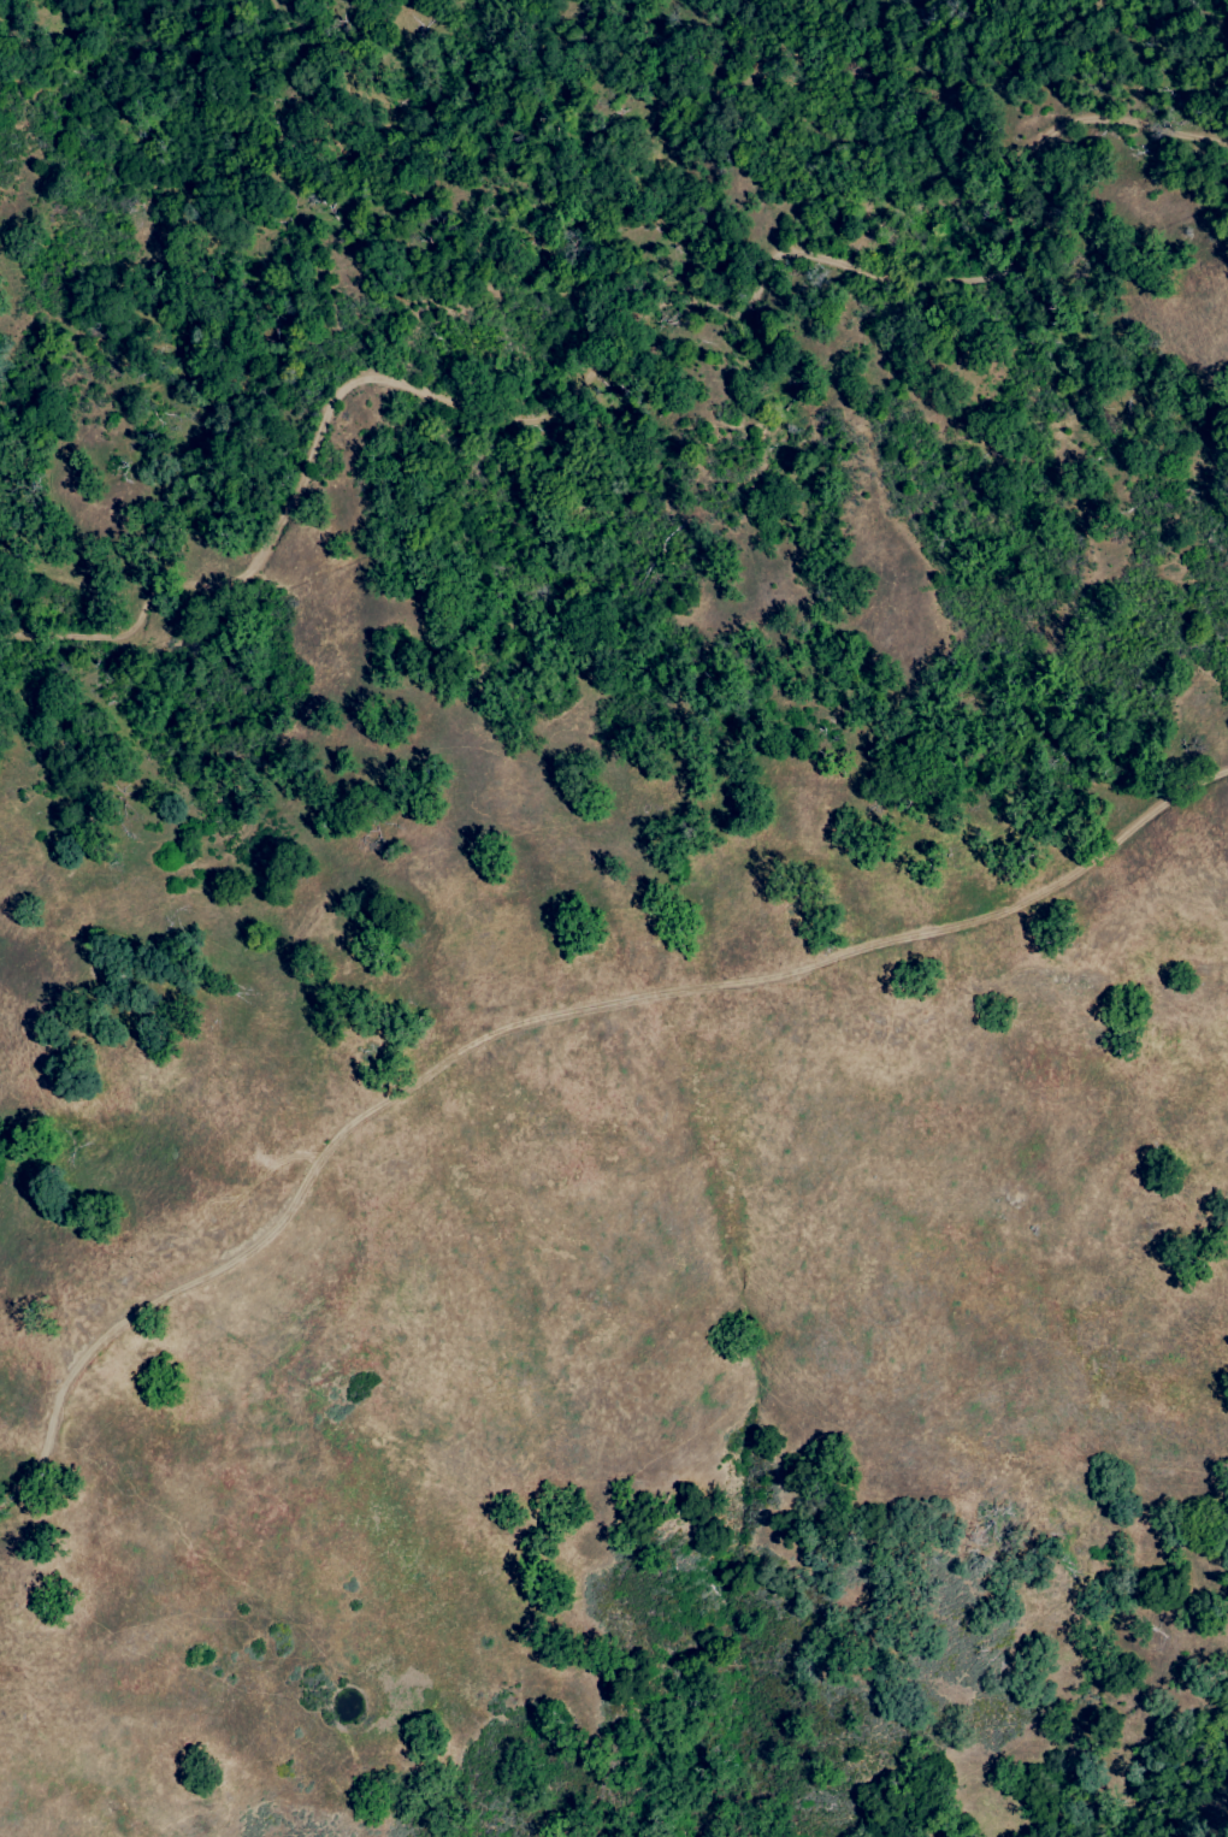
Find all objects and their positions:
road: (600, 321)
road: (541, 1018)

